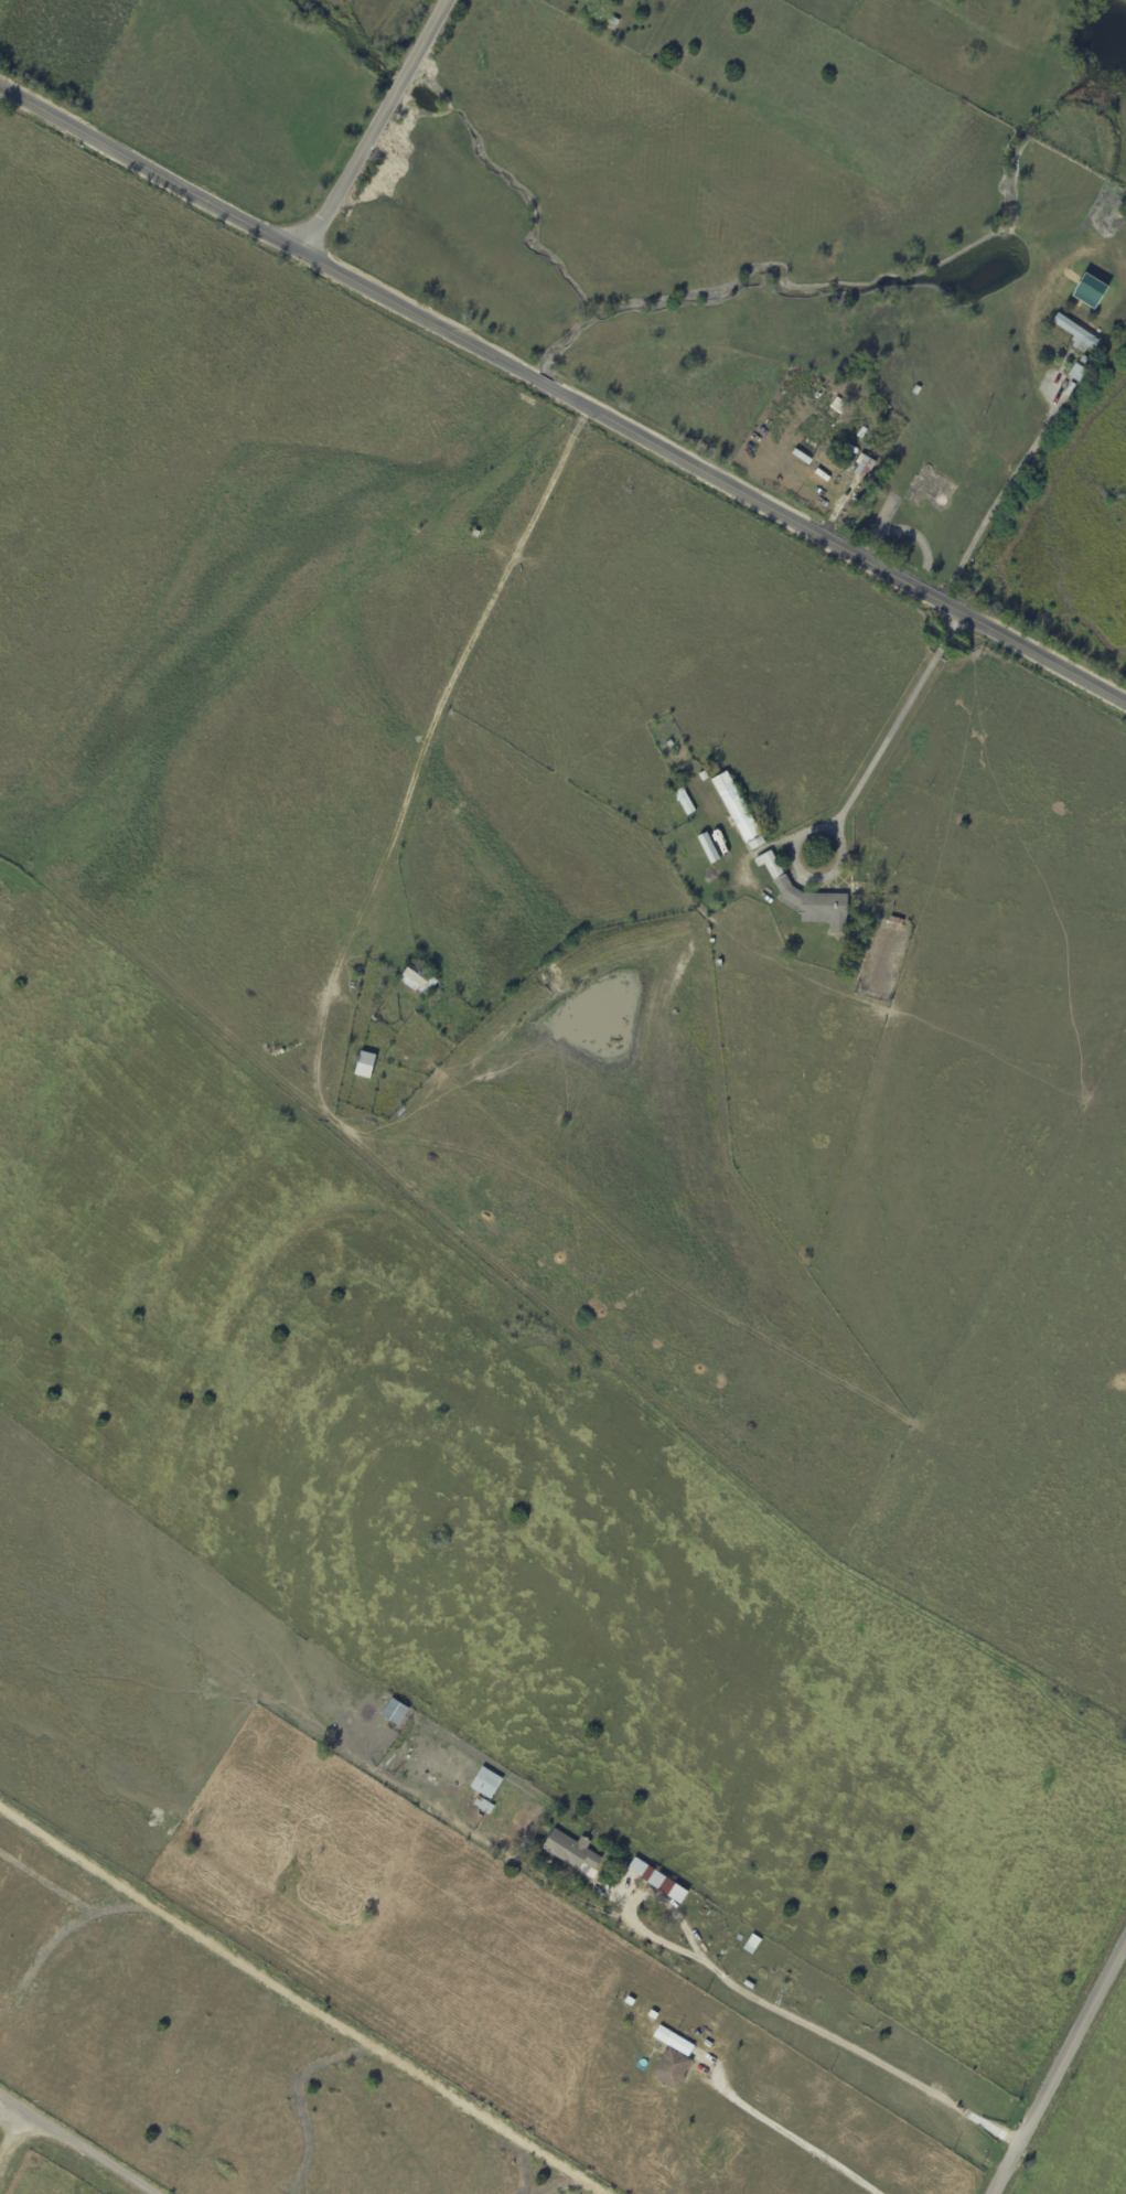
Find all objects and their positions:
building: (592, 0)
building: (614, 23)
road: (372, 124)
building: (1084, 300)
building: (1077, 334)
building: (1079, 373)
road: (565, 388)
building: (918, 390)
building: (839, 406)
building: (865, 465)
road: (891, 735)
building: (671, 743)
building: (704, 775)
building: (685, 801)
building: (734, 807)
building: (757, 843)
building: (710, 847)
building: (862, 882)
building: (808, 898)
building: (897, 921)
building: (709, 930)
building: (712, 940)
building: (720, 962)
building: (419, 978)
building: (366, 1064)
building: (396, 1711)
building: (487, 1781)
building: (484, 1805)
building: (571, 1850)
building: (661, 1880)
building: (739, 1937)
building: (630, 2001)
building: (654, 2014)
road: (814, 2024)
building: (674, 2058)
road: (1054, 2061)
road: (14, 2104)
road: (791, 2138)
road: (65, 2139)

